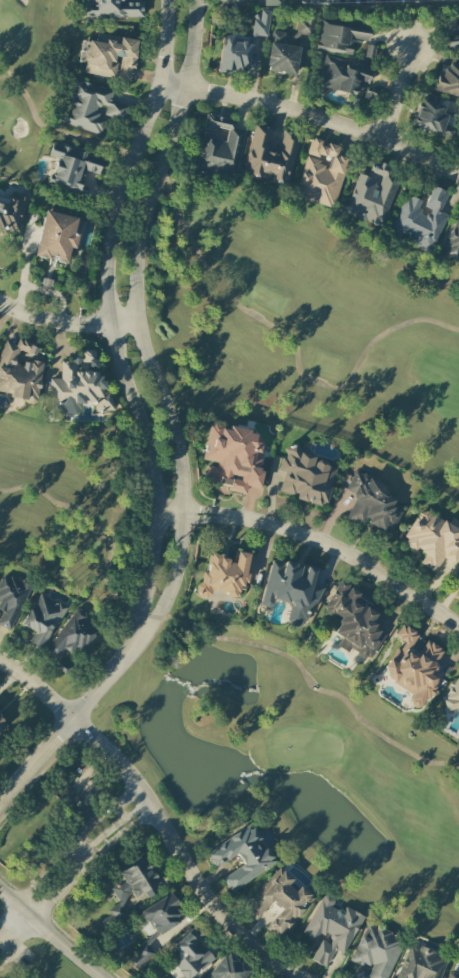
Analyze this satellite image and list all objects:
building: (267, 2)
building: (112, 9)
building: (260, 23)
building: (340, 35)
building: (453, 39)
building: (287, 46)
building: (235, 55)
building: (108, 56)
building: (341, 76)
building: (447, 79)
road: (395, 96)
building: (90, 107)
building: (458, 110)
road: (312, 115)
building: (432, 117)
building: (219, 149)
building: (270, 155)
building: (70, 169)
building: (321, 173)
building: (372, 194)
building: (11, 212)
building: (421, 219)
building: (56, 237)
building: (452, 242)
road: (24, 269)
park: (266, 288)
road: (108, 317)
road: (66, 321)
road: (136, 322)
building: (19, 373)
building: (79, 388)
building: (232, 459)
building: (305, 477)
building: (373, 505)
building: (433, 540)
road: (315, 542)
building: (223, 575)
building: (458, 585)
building: (291, 590)
building: (11, 599)
building: (42, 619)
building: (356, 621)
building: (71, 636)
building: (414, 665)
building: (453, 695)
park: (240, 698)
road: (72, 721)
building: (2, 725)
road: (115, 804)
road: (120, 811)
road: (156, 815)
road: (124, 818)
road: (130, 826)
road: (95, 842)
road: (86, 844)
road: (101, 849)
building: (241, 856)
road: (56, 864)
building: (130, 890)
road: (10, 897)
building: (279, 901)
road: (46, 904)
building: (162, 915)
road: (10, 917)
building: (331, 929)
road: (61, 942)
building: (376, 952)
building: (140, 956)
building: (190, 956)
building: (421, 963)
building: (228, 968)
building: (452, 975)

